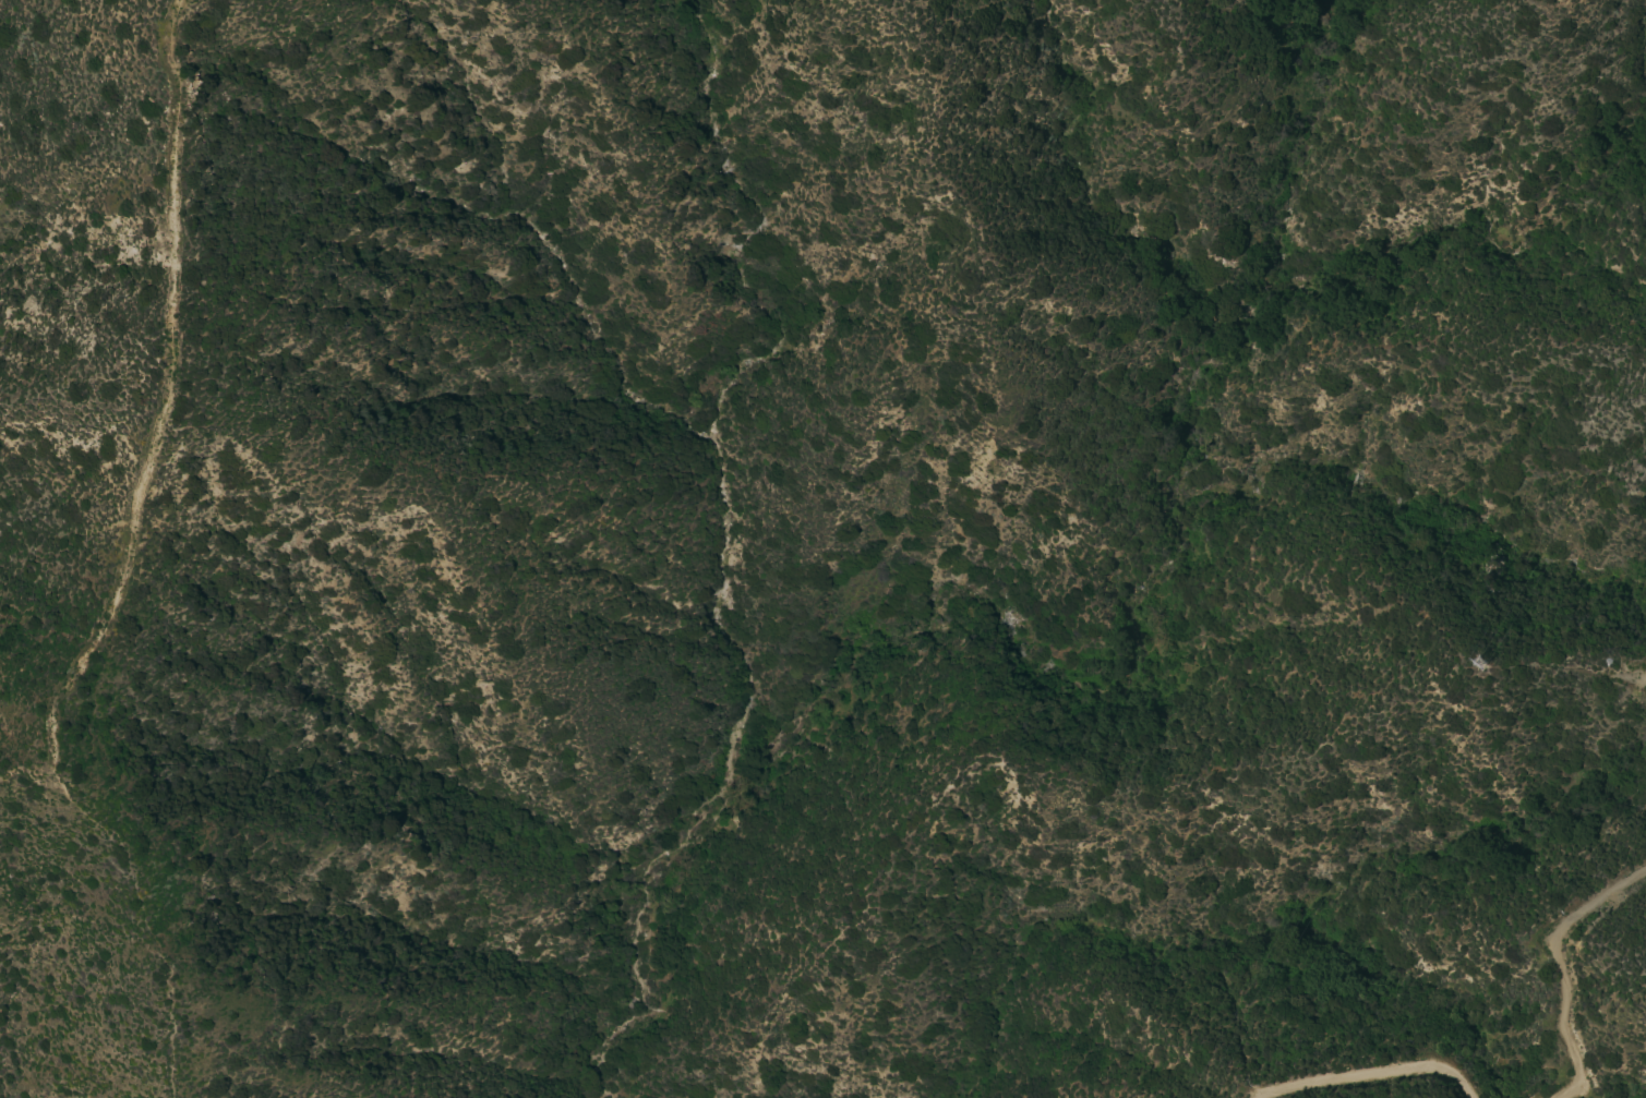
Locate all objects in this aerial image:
building: (1608, 662)
power tower: (1480, 663)
road: (1557, 669)
road: (1558, 963)
road: (1366, 1072)

